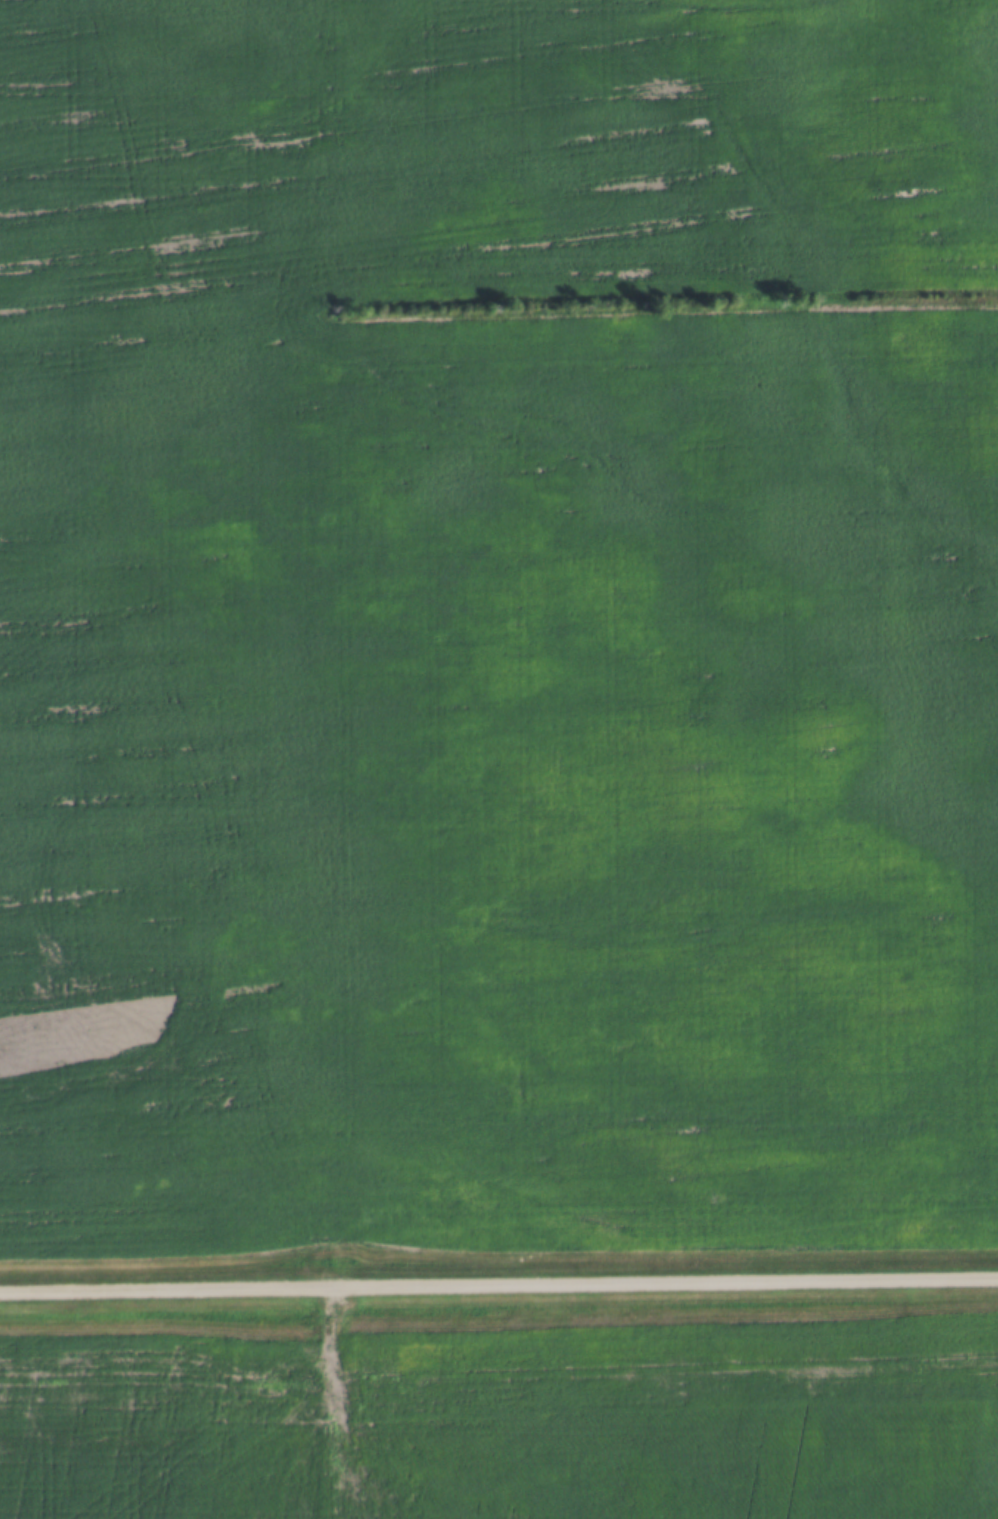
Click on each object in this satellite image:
road: (499, 1285)

